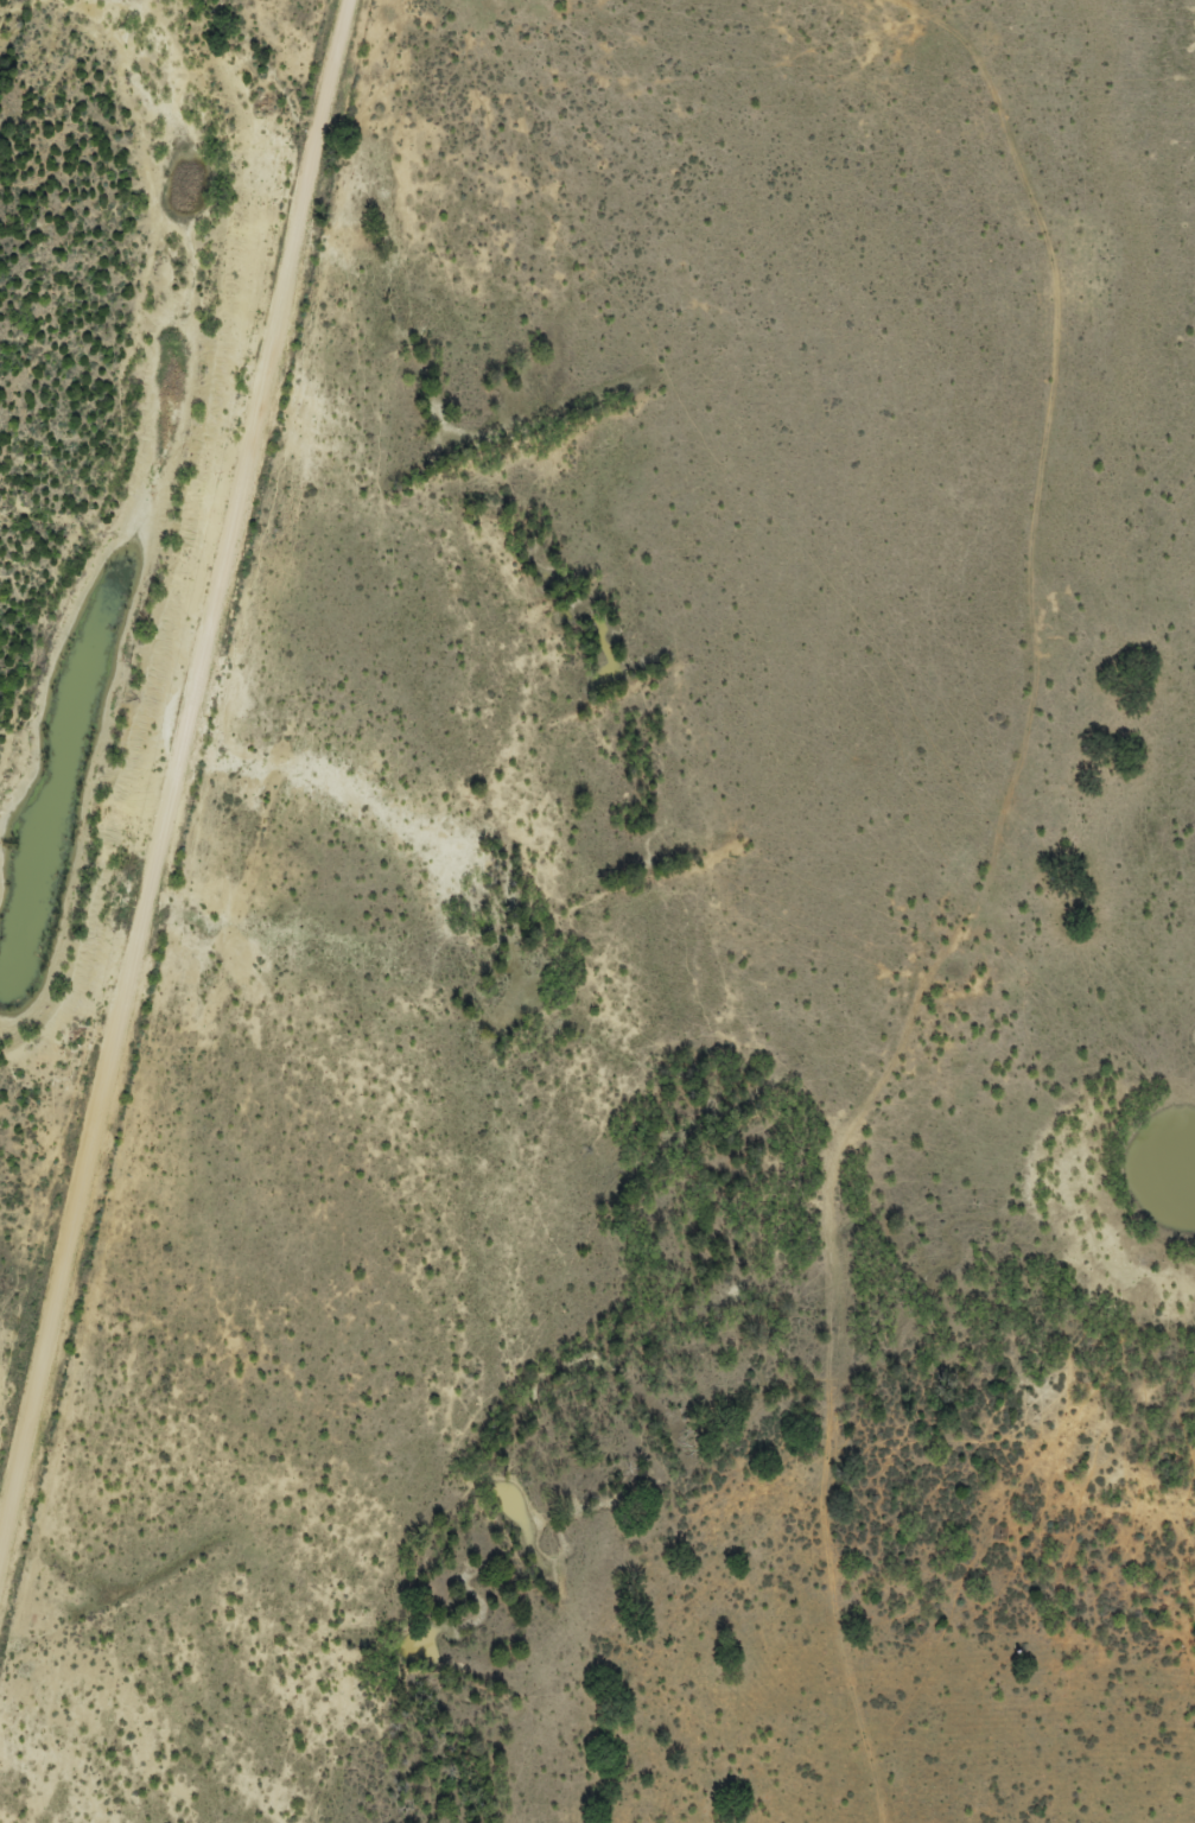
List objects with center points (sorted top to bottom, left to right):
road: (209, 891)

